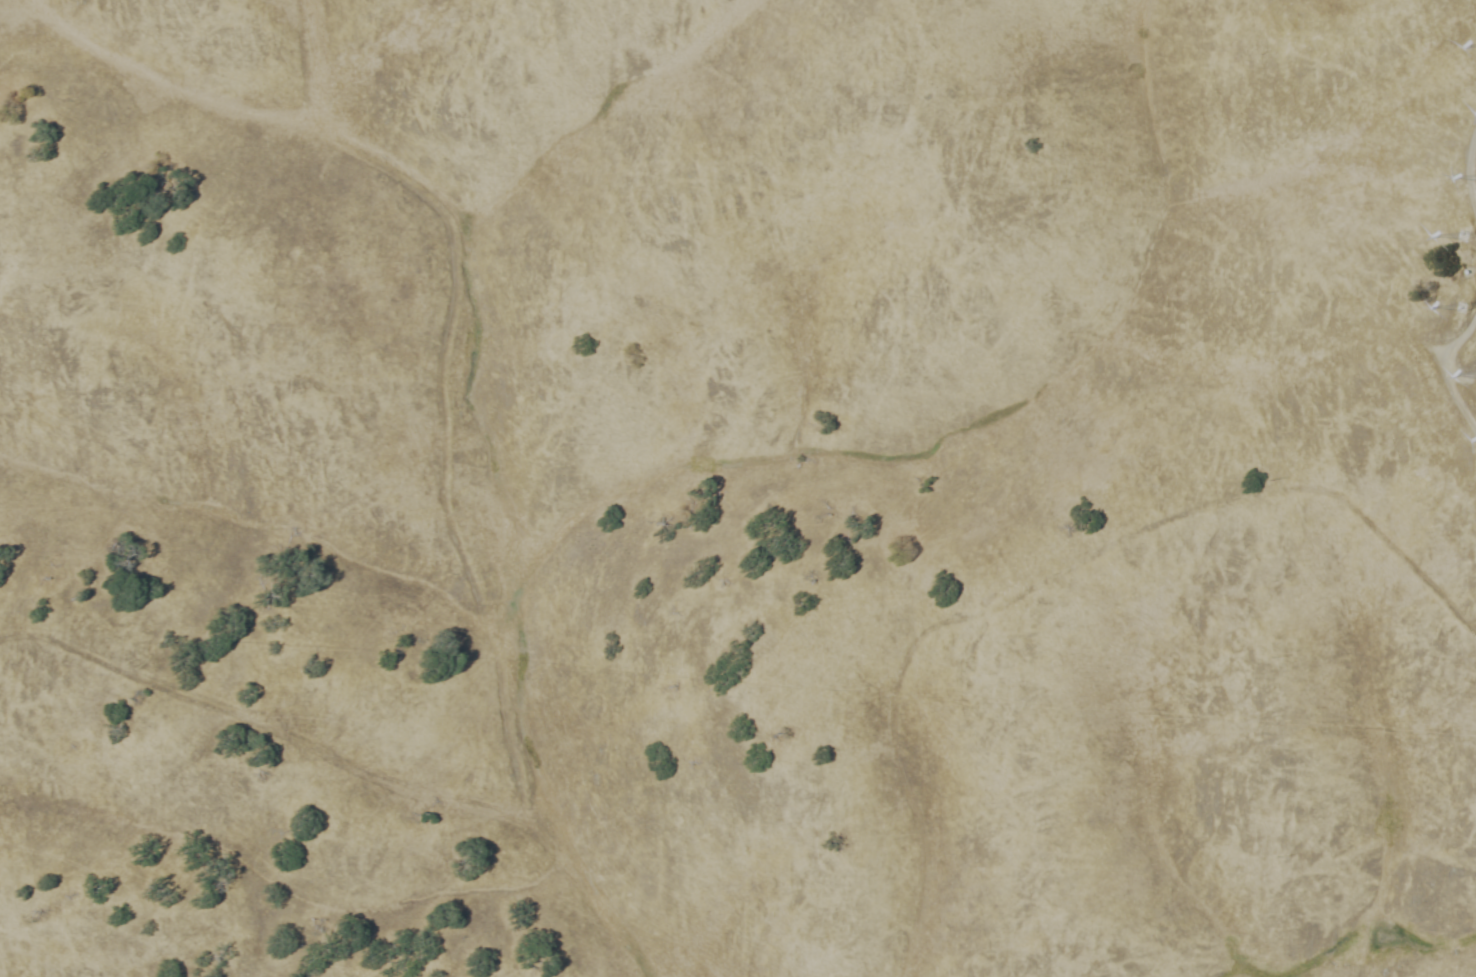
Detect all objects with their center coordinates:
road: (1468, 166)
wind turbine: (1458, 238)
wind turbine: (1460, 306)
road: (1447, 371)

